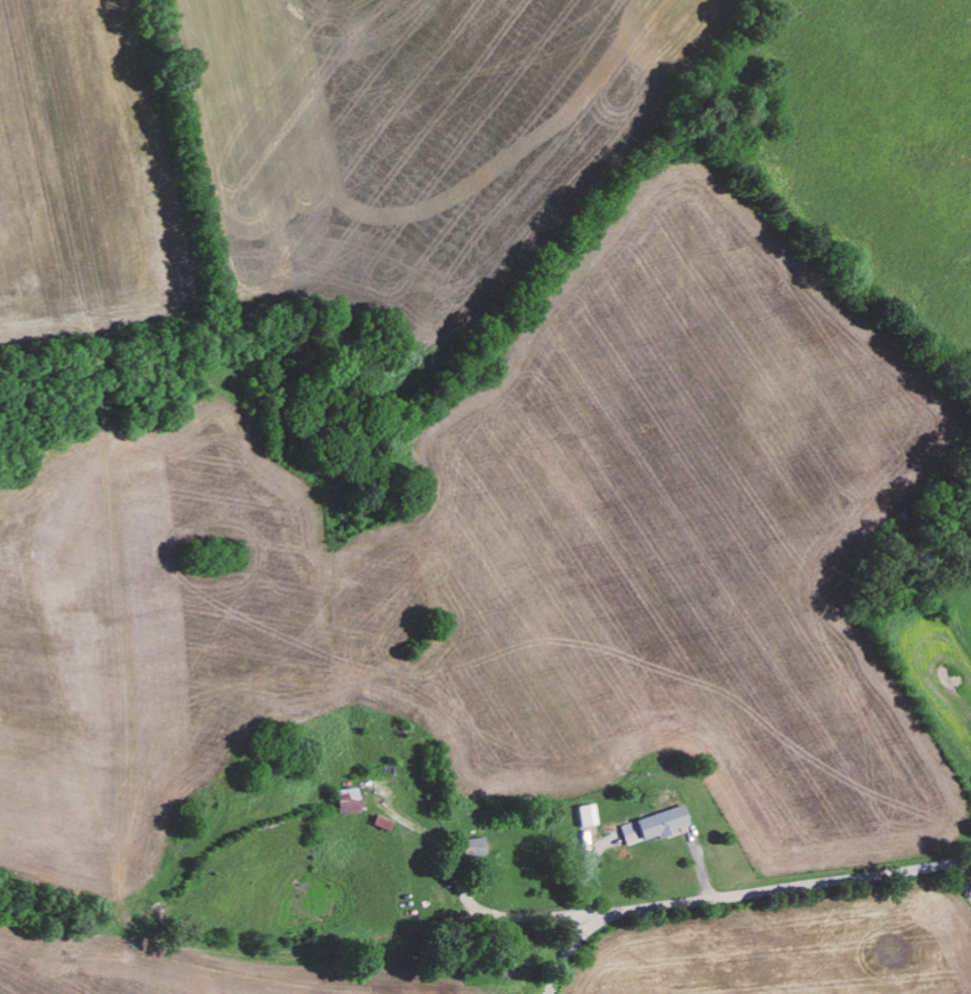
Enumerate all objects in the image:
building: (655, 824)
road: (741, 894)

